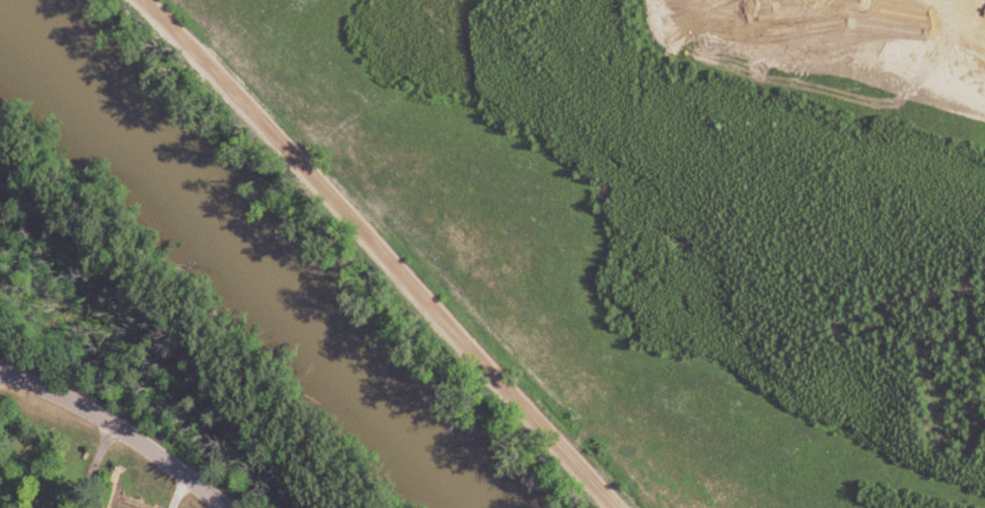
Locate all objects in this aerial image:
road: (382, 250)
river: (250, 254)
road: (119, 427)
road: (94, 466)

